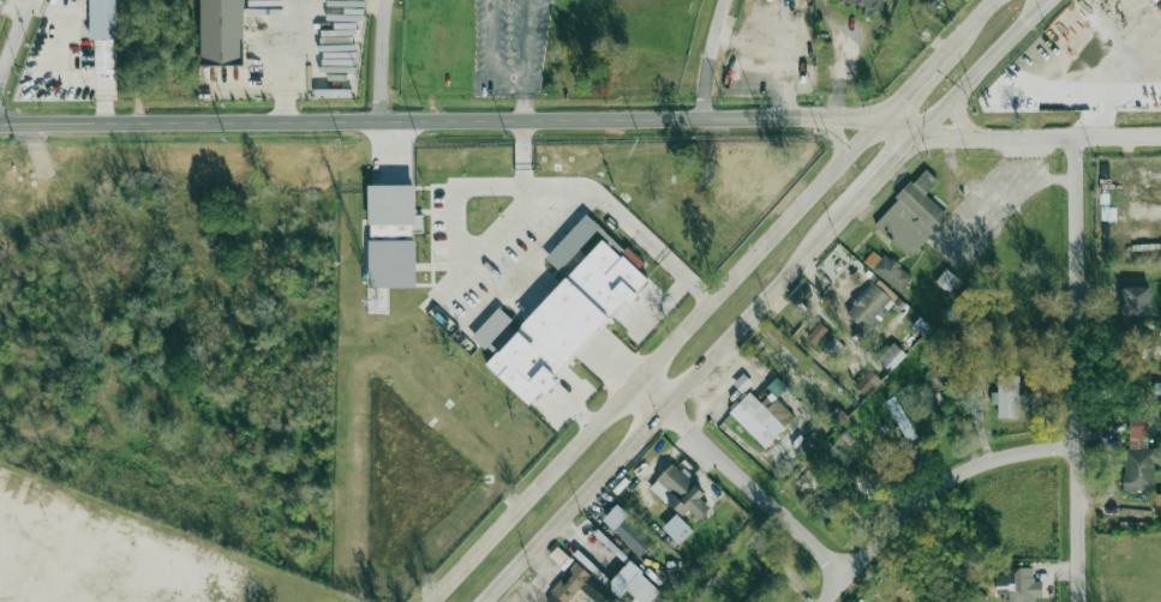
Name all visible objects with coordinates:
building: (866, 2)
building: (1157, 2)
road: (968, 23)
building: (222, 31)
road: (14, 38)
building: (293, 46)
building: (104, 54)
road: (714, 58)
road: (381, 59)
building: (149, 60)
road: (982, 62)
building: (861, 66)
road: (914, 83)
traffic signals: (899, 98)
road: (959, 109)
traffic signals: (856, 118)
road: (412, 119)
road: (875, 119)
traffic signals: (951, 131)
road: (1042, 136)
road: (838, 137)
road: (861, 142)
traffic signals: (903, 152)
road: (890, 165)
road: (1052, 179)
building: (736, 192)
road: (1001, 195)
road: (597, 201)
building: (393, 211)
building: (910, 212)
road: (457, 229)
building: (571, 241)
road: (529, 257)
building: (391, 263)
building: (573, 263)
building: (888, 273)
building: (946, 279)
building: (1136, 301)
building: (868, 306)
building: (567, 319)
building: (495, 331)
building: (816, 333)
building: (836, 344)
building: (891, 357)
road: (1084, 368)
building: (935, 378)
road: (635, 383)
building: (742, 383)
building: (867, 383)
building: (971, 386)
building: (804, 390)
building: (1007, 397)
road: (670, 403)
building: (934, 403)
building: (759, 417)
building: (894, 425)
building: (1139, 452)
road: (742, 478)
building: (837, 482)
road: (936, 487)
building: (681, 494)
building: (1157, 505)
building: (672, 530)
building: (634, 535)
building: (568, 584)
building: (633, 585)
building: (1023, 585)
building: (761, 586)
road: (12, 597)
building: (705, 601)

